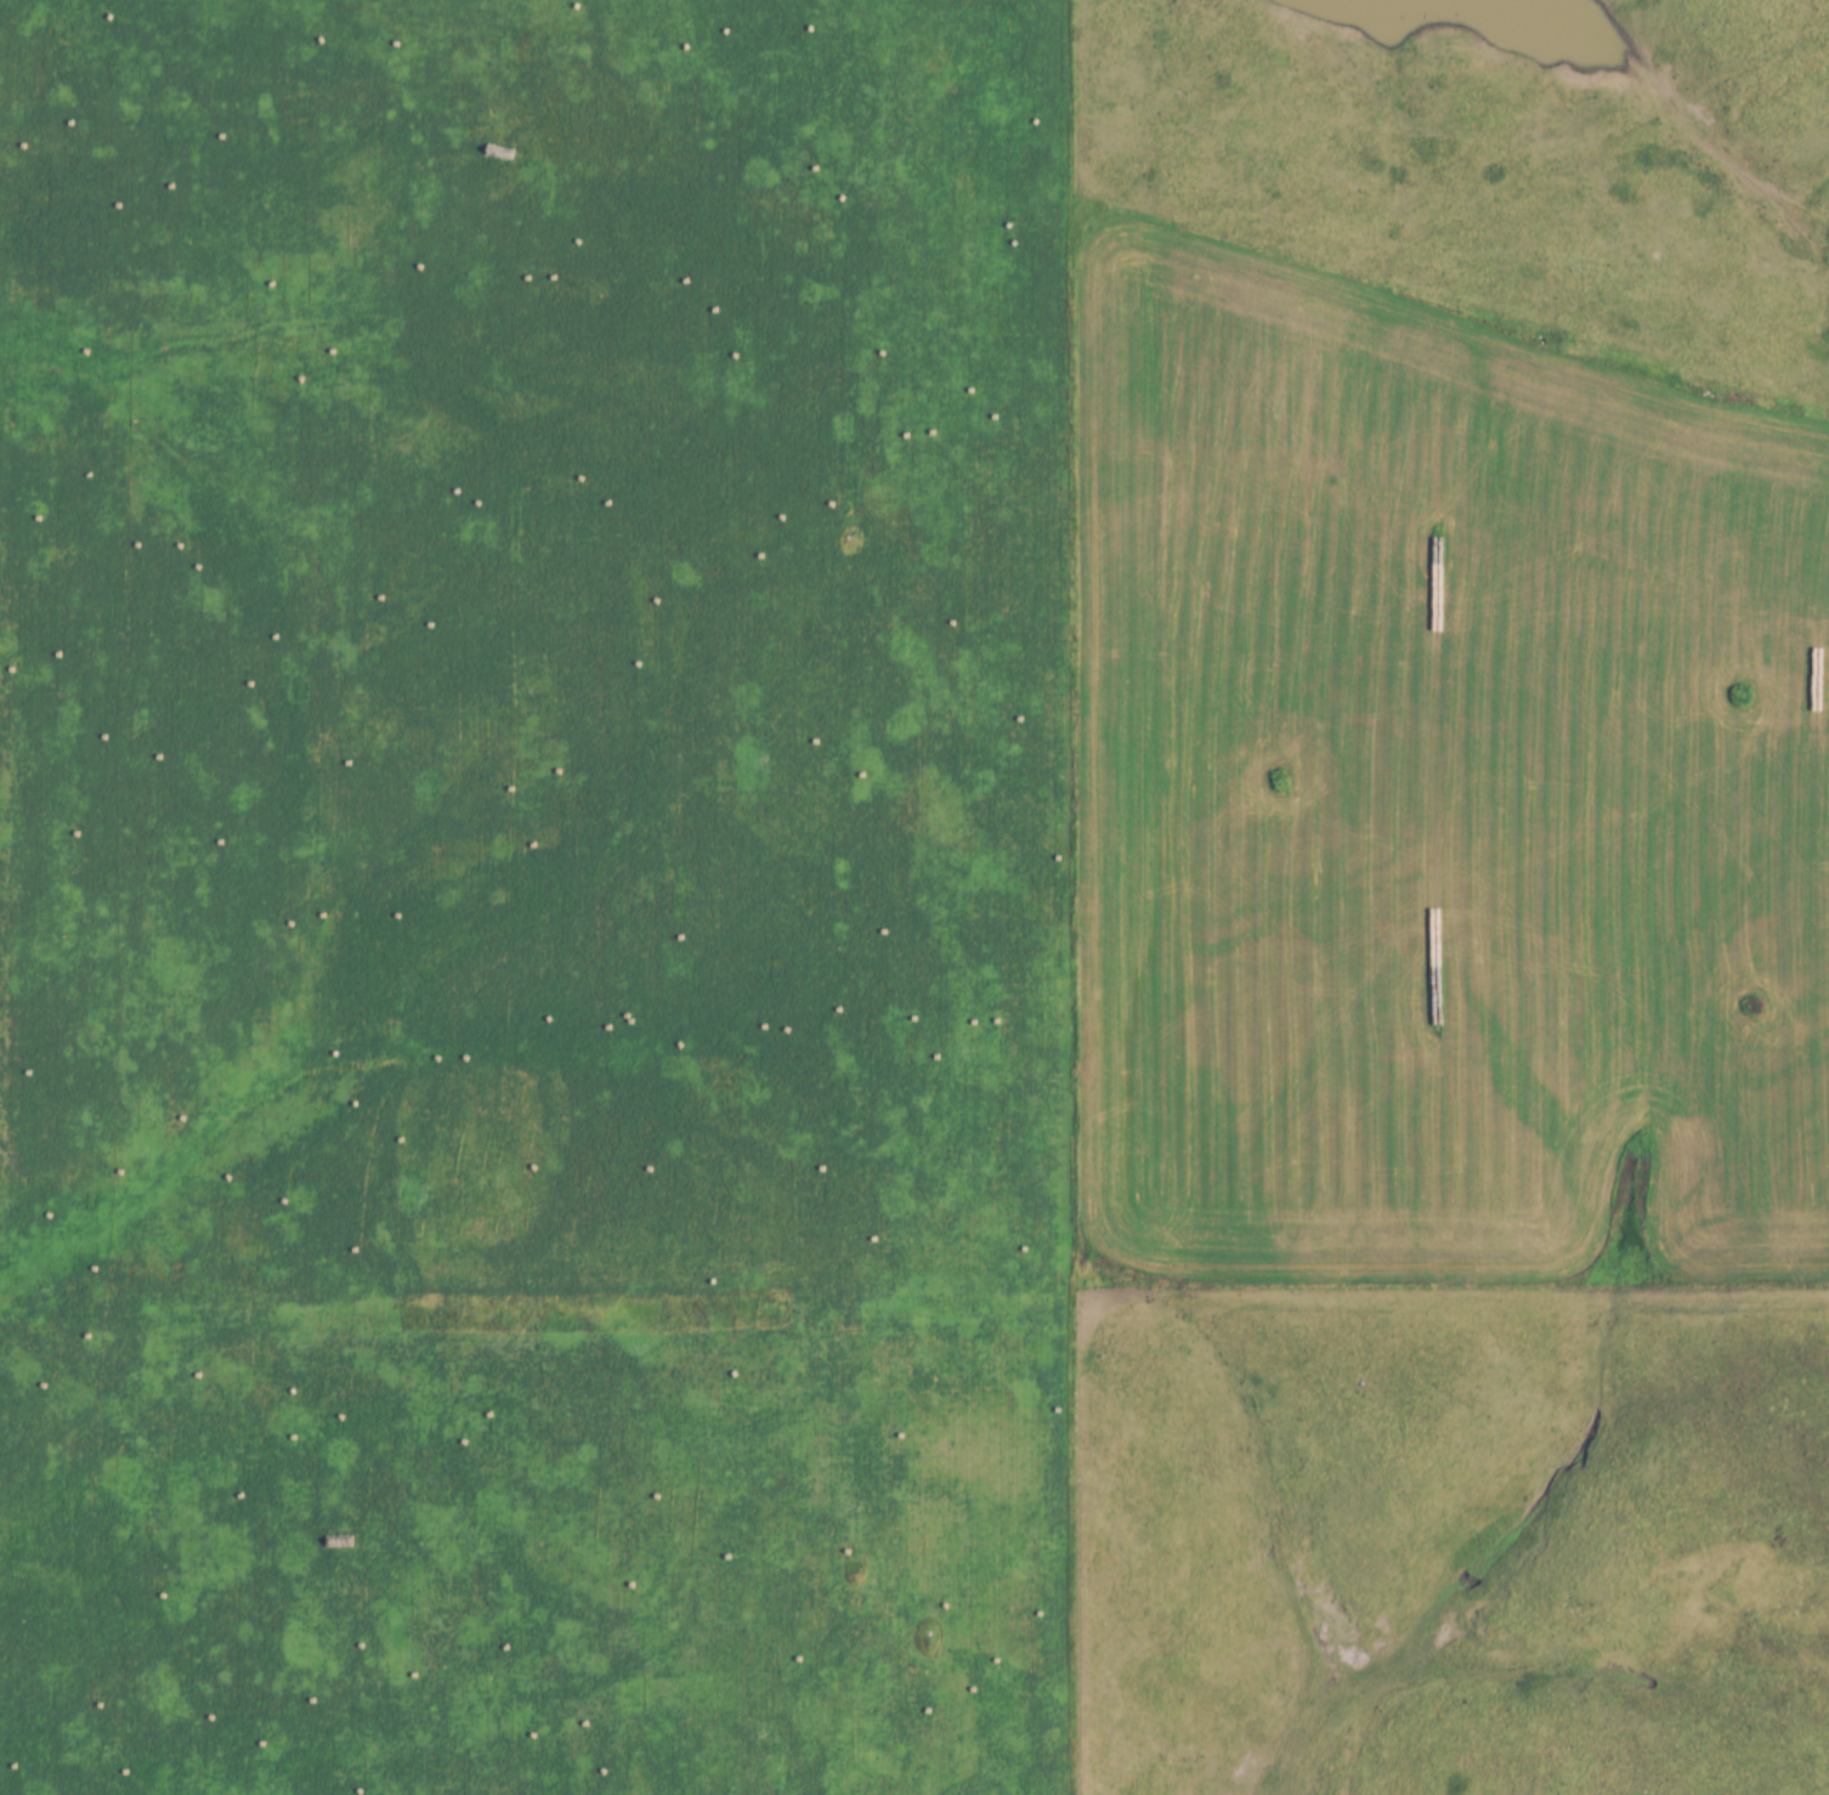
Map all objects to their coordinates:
building: (840, 1406)

